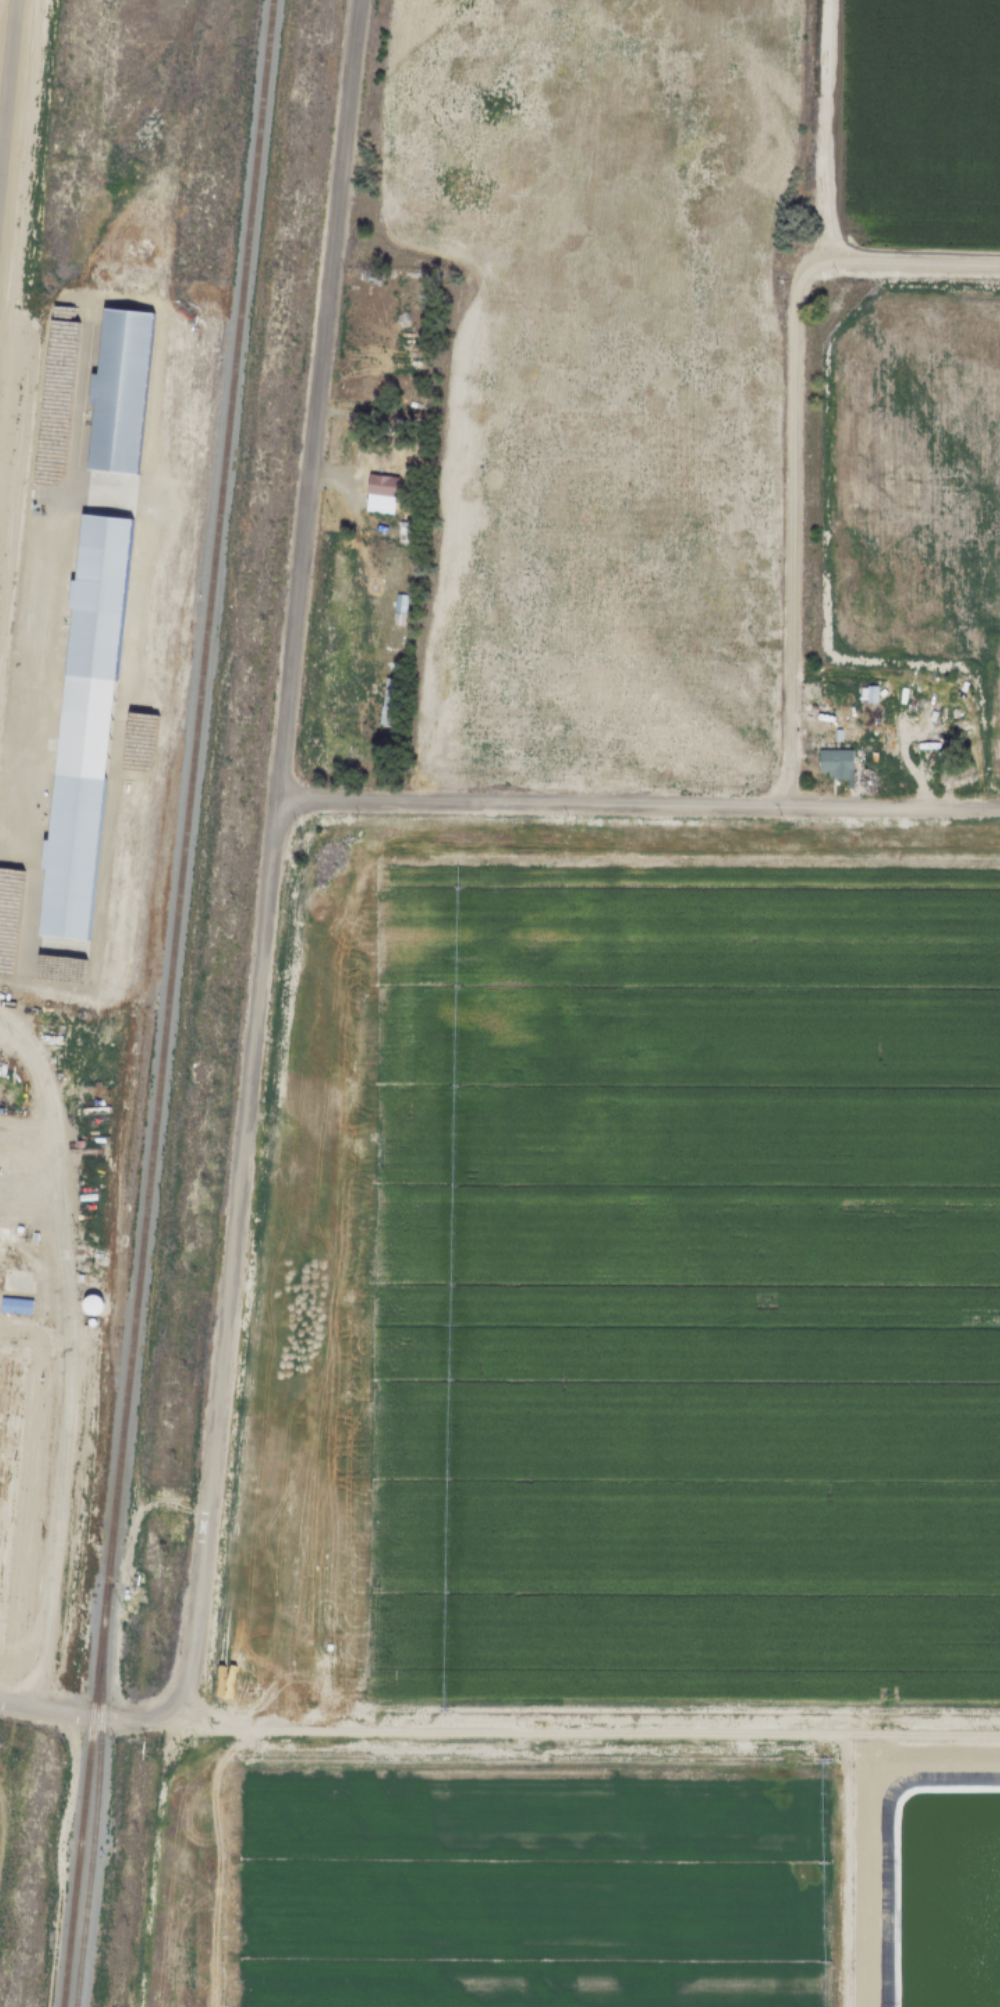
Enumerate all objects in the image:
airport runway: (7, 77)
road: (820, 131)
building: (118, 391)
road: (791, 438)
building: (380, 492)
building: (404, 529)
building: (399, 611)
road: (53, 623)
building: (863, 694)
building: (920, 696)
building: (387, 701)
building: (82, 726)
building: (837, 736)
building: (917, 763)
building: (843, 768)
road: (17, 786)
railway: (189, 789)
road: (636, 803)
road: (260, 944)
road: (44, 1127)
building: (90, 1303)
storage tank: (90, 1303)
building: (15, 1305)
building: (90, 1321)
storage tank: (90, 1321)
road: (65, 1454)
building: (125, 1602)
building: (81, 1665)
building: (81, 1670)
building: (80, 1676)
road: (580, 1732)
railway: (85, 1793)
railway: (96, 1793)
road: (867, 1824)
crop: (574, 1867)

